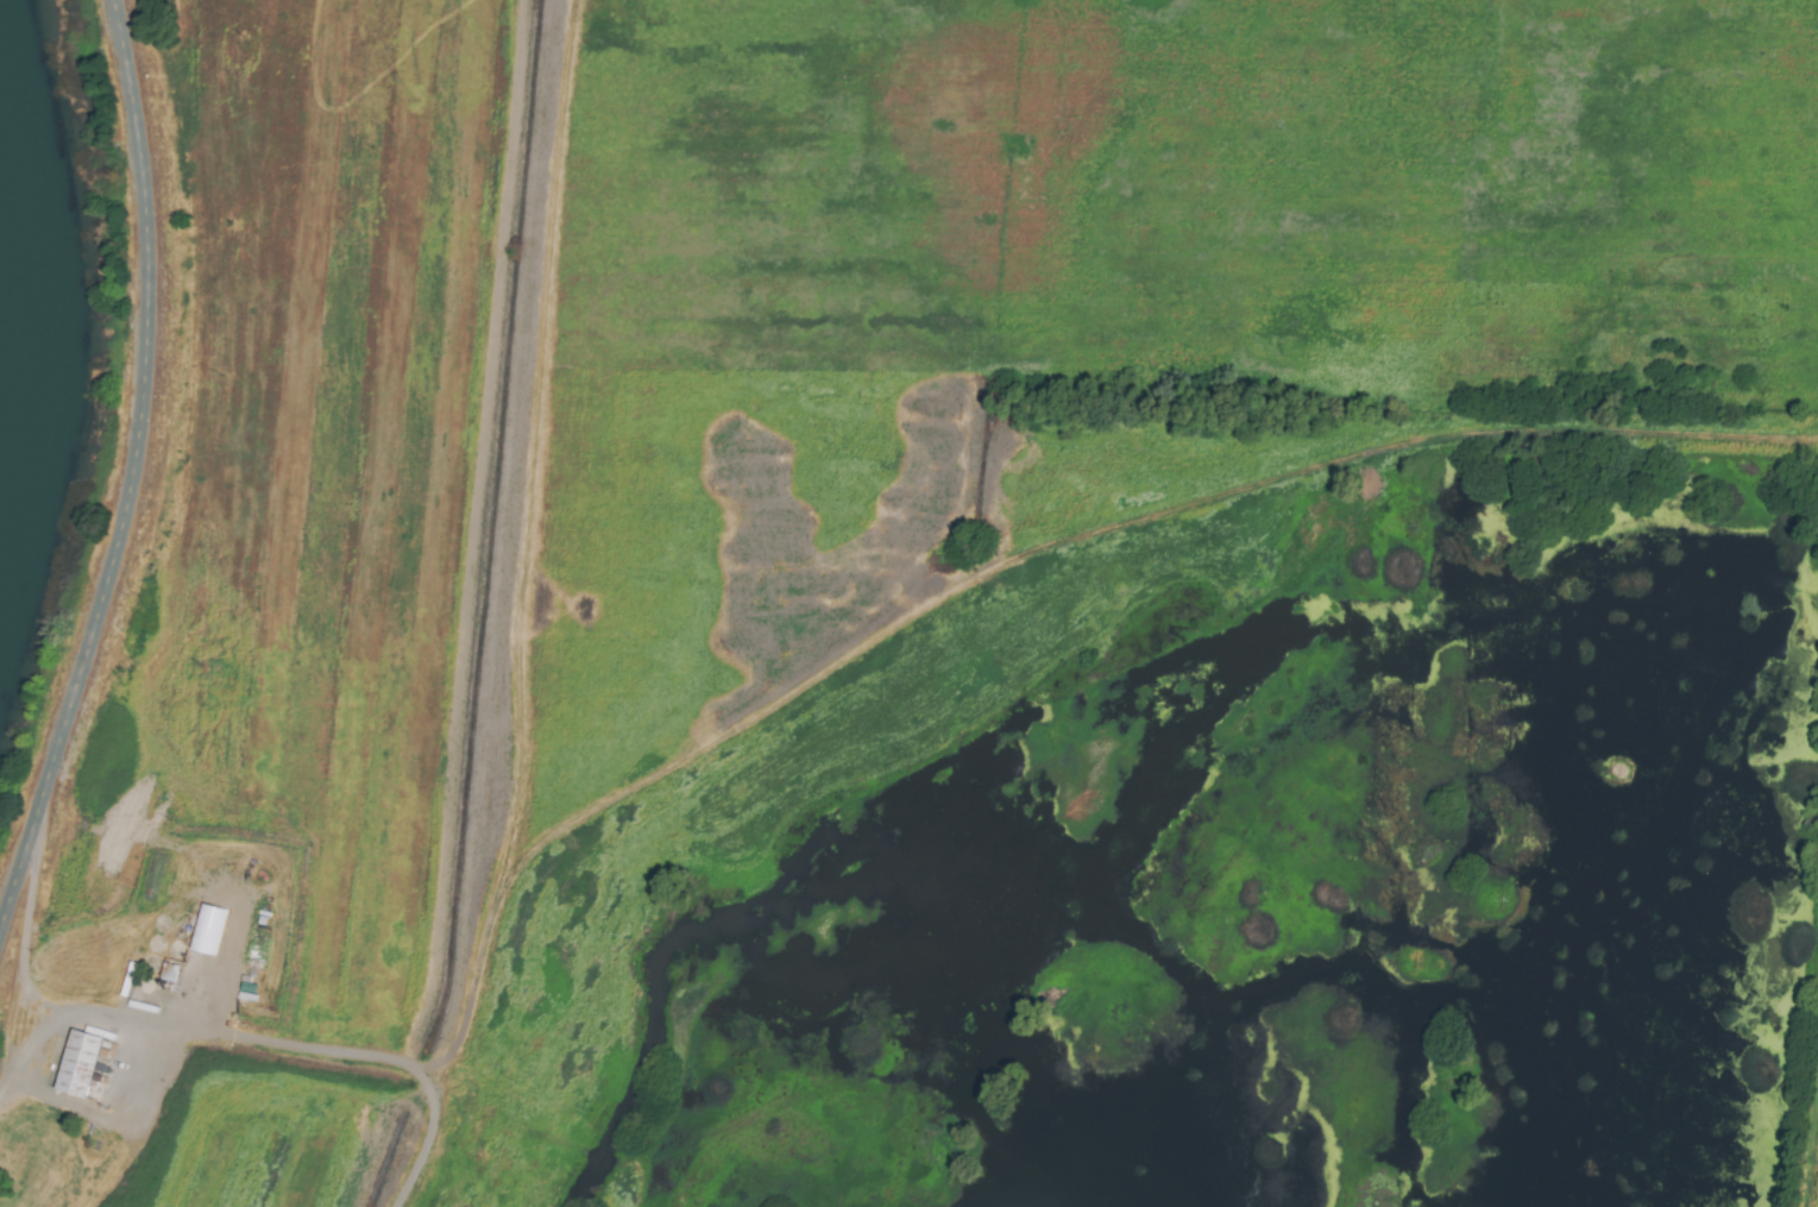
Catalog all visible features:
crop: (750, 394)
road: (130, 470)
building: (207, 930)
road: (21, 961)
building: (76, 1064)

